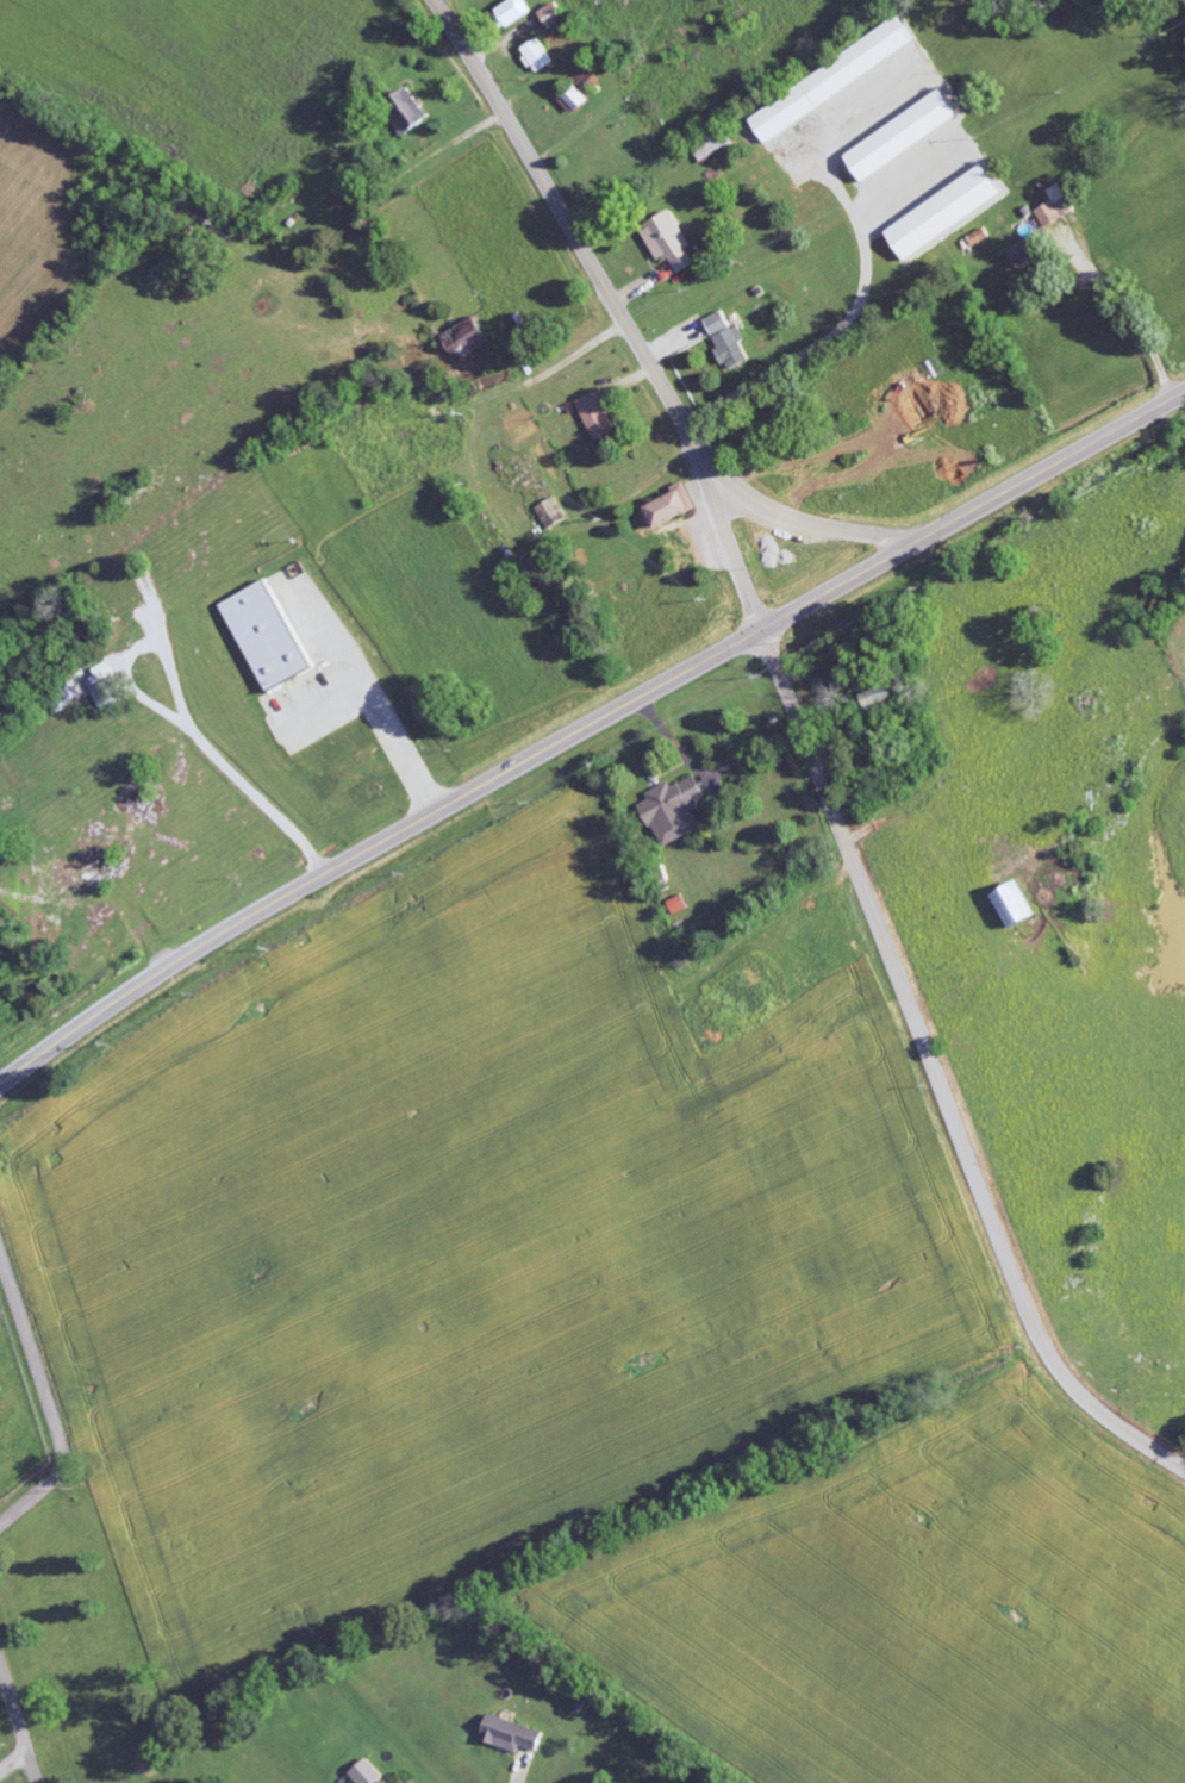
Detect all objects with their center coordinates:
building: (514, 12)
building: (537, 56)
building: (831, 80)
building: (576, 94)
building: (406, 111)
building: (903, 136)
building: (1054, 207)
building: (944, 213)
building: (671, 242)
building: (1023, 254)
road: (618, 305)
building: (469, 338)
building: (728, 341)
building: (598, 416)
building: (669, 510)
building: (553, 513)
road: (798, 518)
building: (684, 550)
building: (267, 637)
building: (881, 699)
road: (586, 727)
building: (674, 809)
building: (678, 904)
building: (1015, 904)
road: (936, 1076)
road: (46, 1401)
road: (17, 1728)
building: (510, 1734)
building: (364, 1772)
building: (411, 1782)

